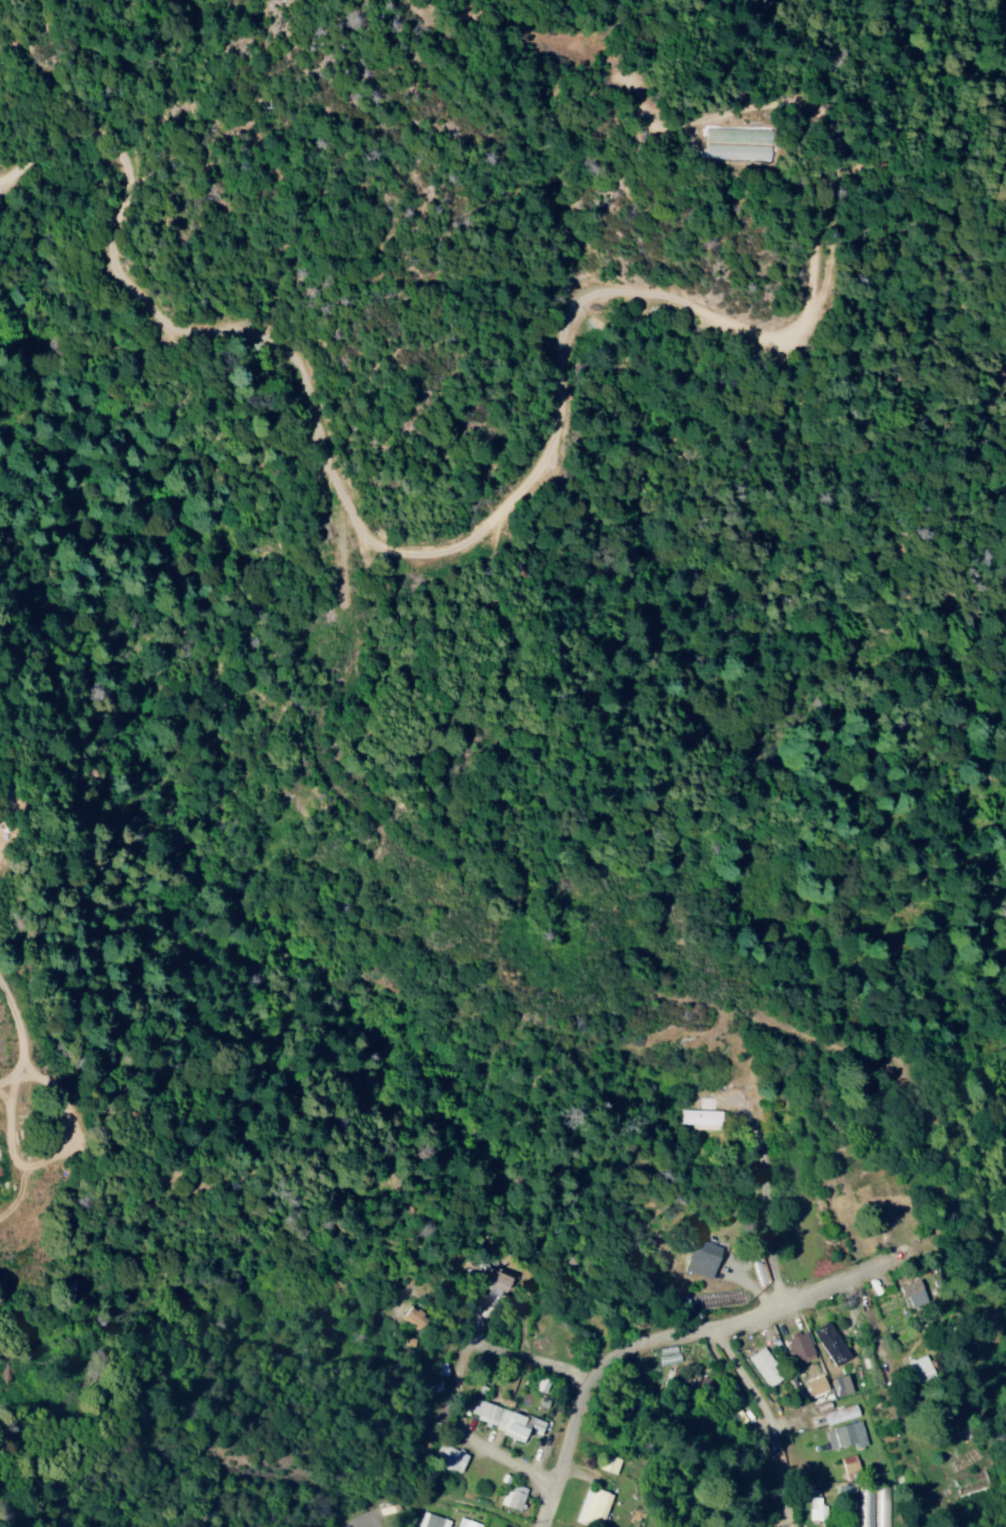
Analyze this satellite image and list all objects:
building: (702, 1115)
road: (767, 1208)
building: (701, 1255)
building: (497, 1277)
building: (910, 1292)
building: (413, 1316)
road: (737, 1323)
building: (828, 1342)
building: (797, 1347)
road: (517, 1360)
building: (762, 1366)
building: (437, 1374)
building: (540, 1383)
building: (838, 1384)
building: (814, 1385)
building: (839, 1413)
building: (501, 1418)
building: (844, 1434)
road: (569, 1448)
building: (451, 1457)
building: (606, 1462)
road: (516, 1465)
building: (848, 1466)
road: (628, 1481)
building: (512, 1495)
building: (589, 1507)
road: (662, 1507)
building: (815, 1508)
building: (872, 1509)
building: (431, 1520)
building: (465, 1522)

